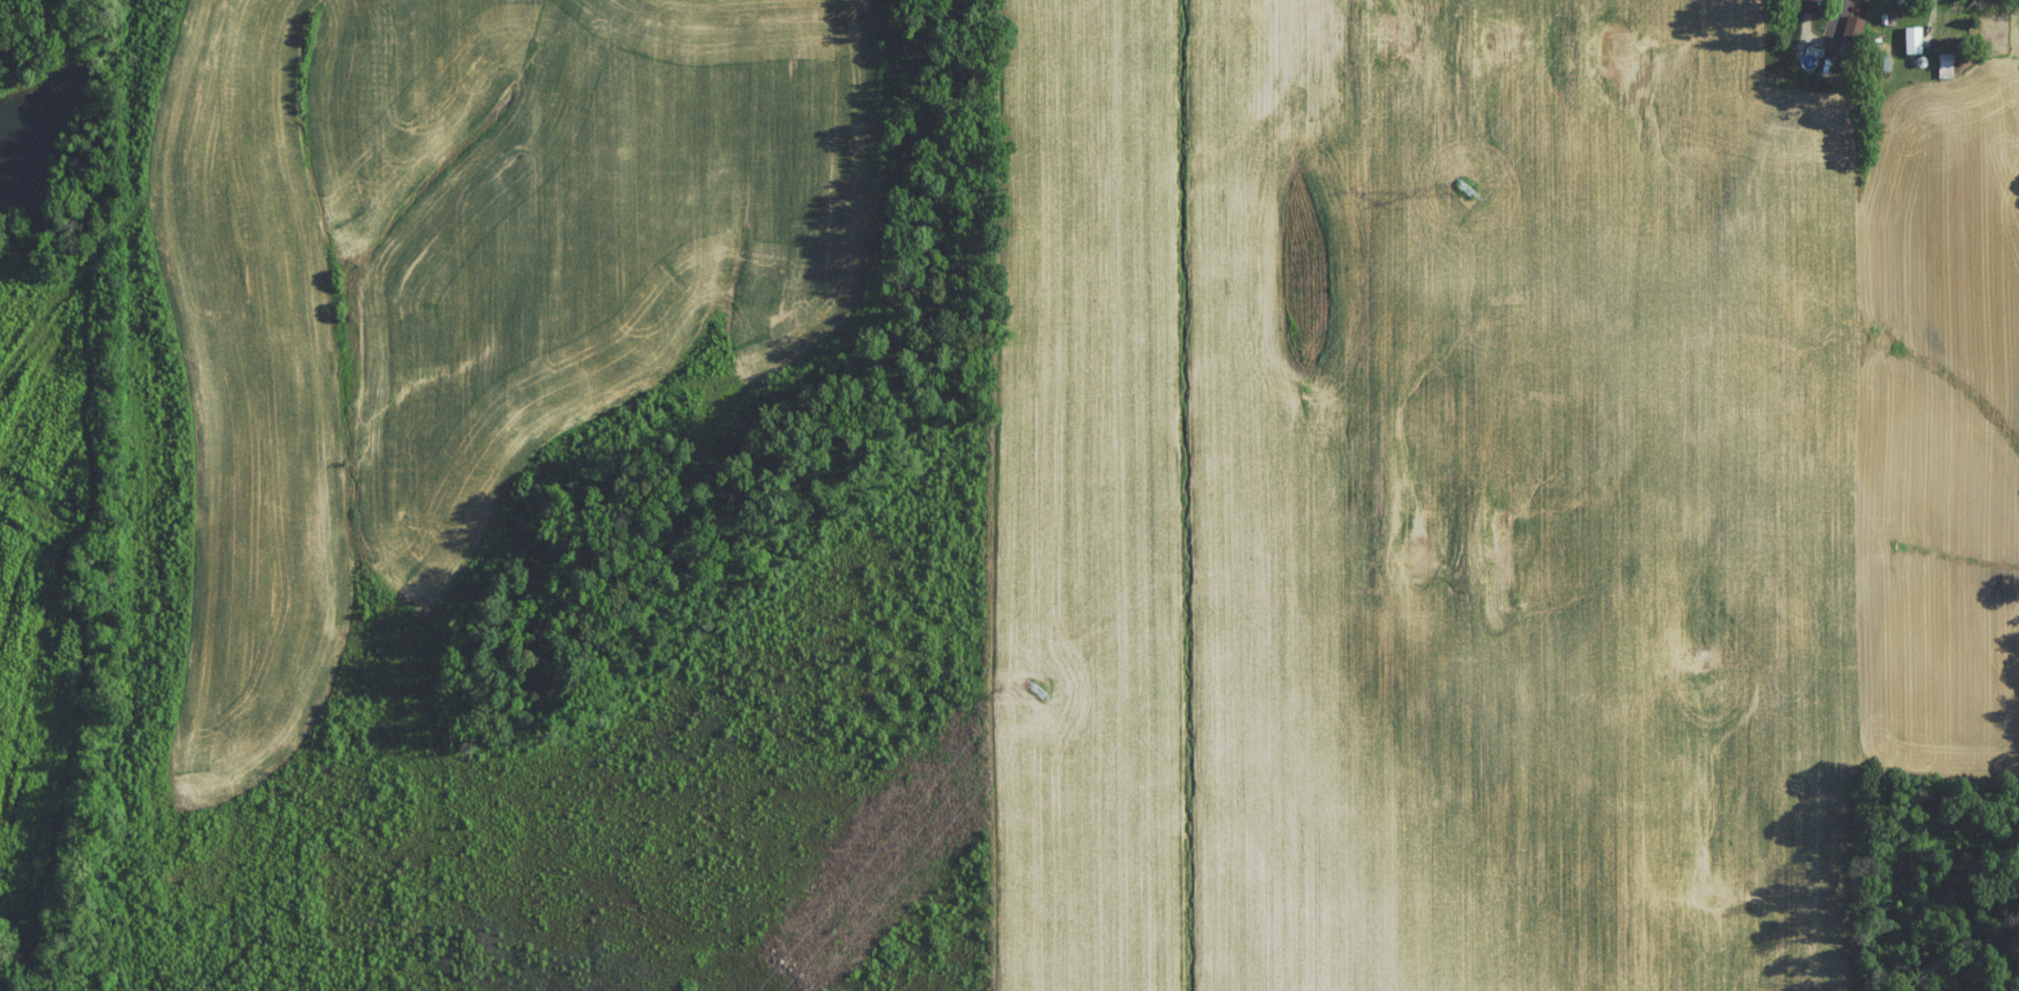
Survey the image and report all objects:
road: (1843, 22)
road: (1928, 26)
building: (1852, 32)
building: (1912, 45)
building: (1944, 71)
power tower: (1459, 196)
power tower: (1038, 697)

